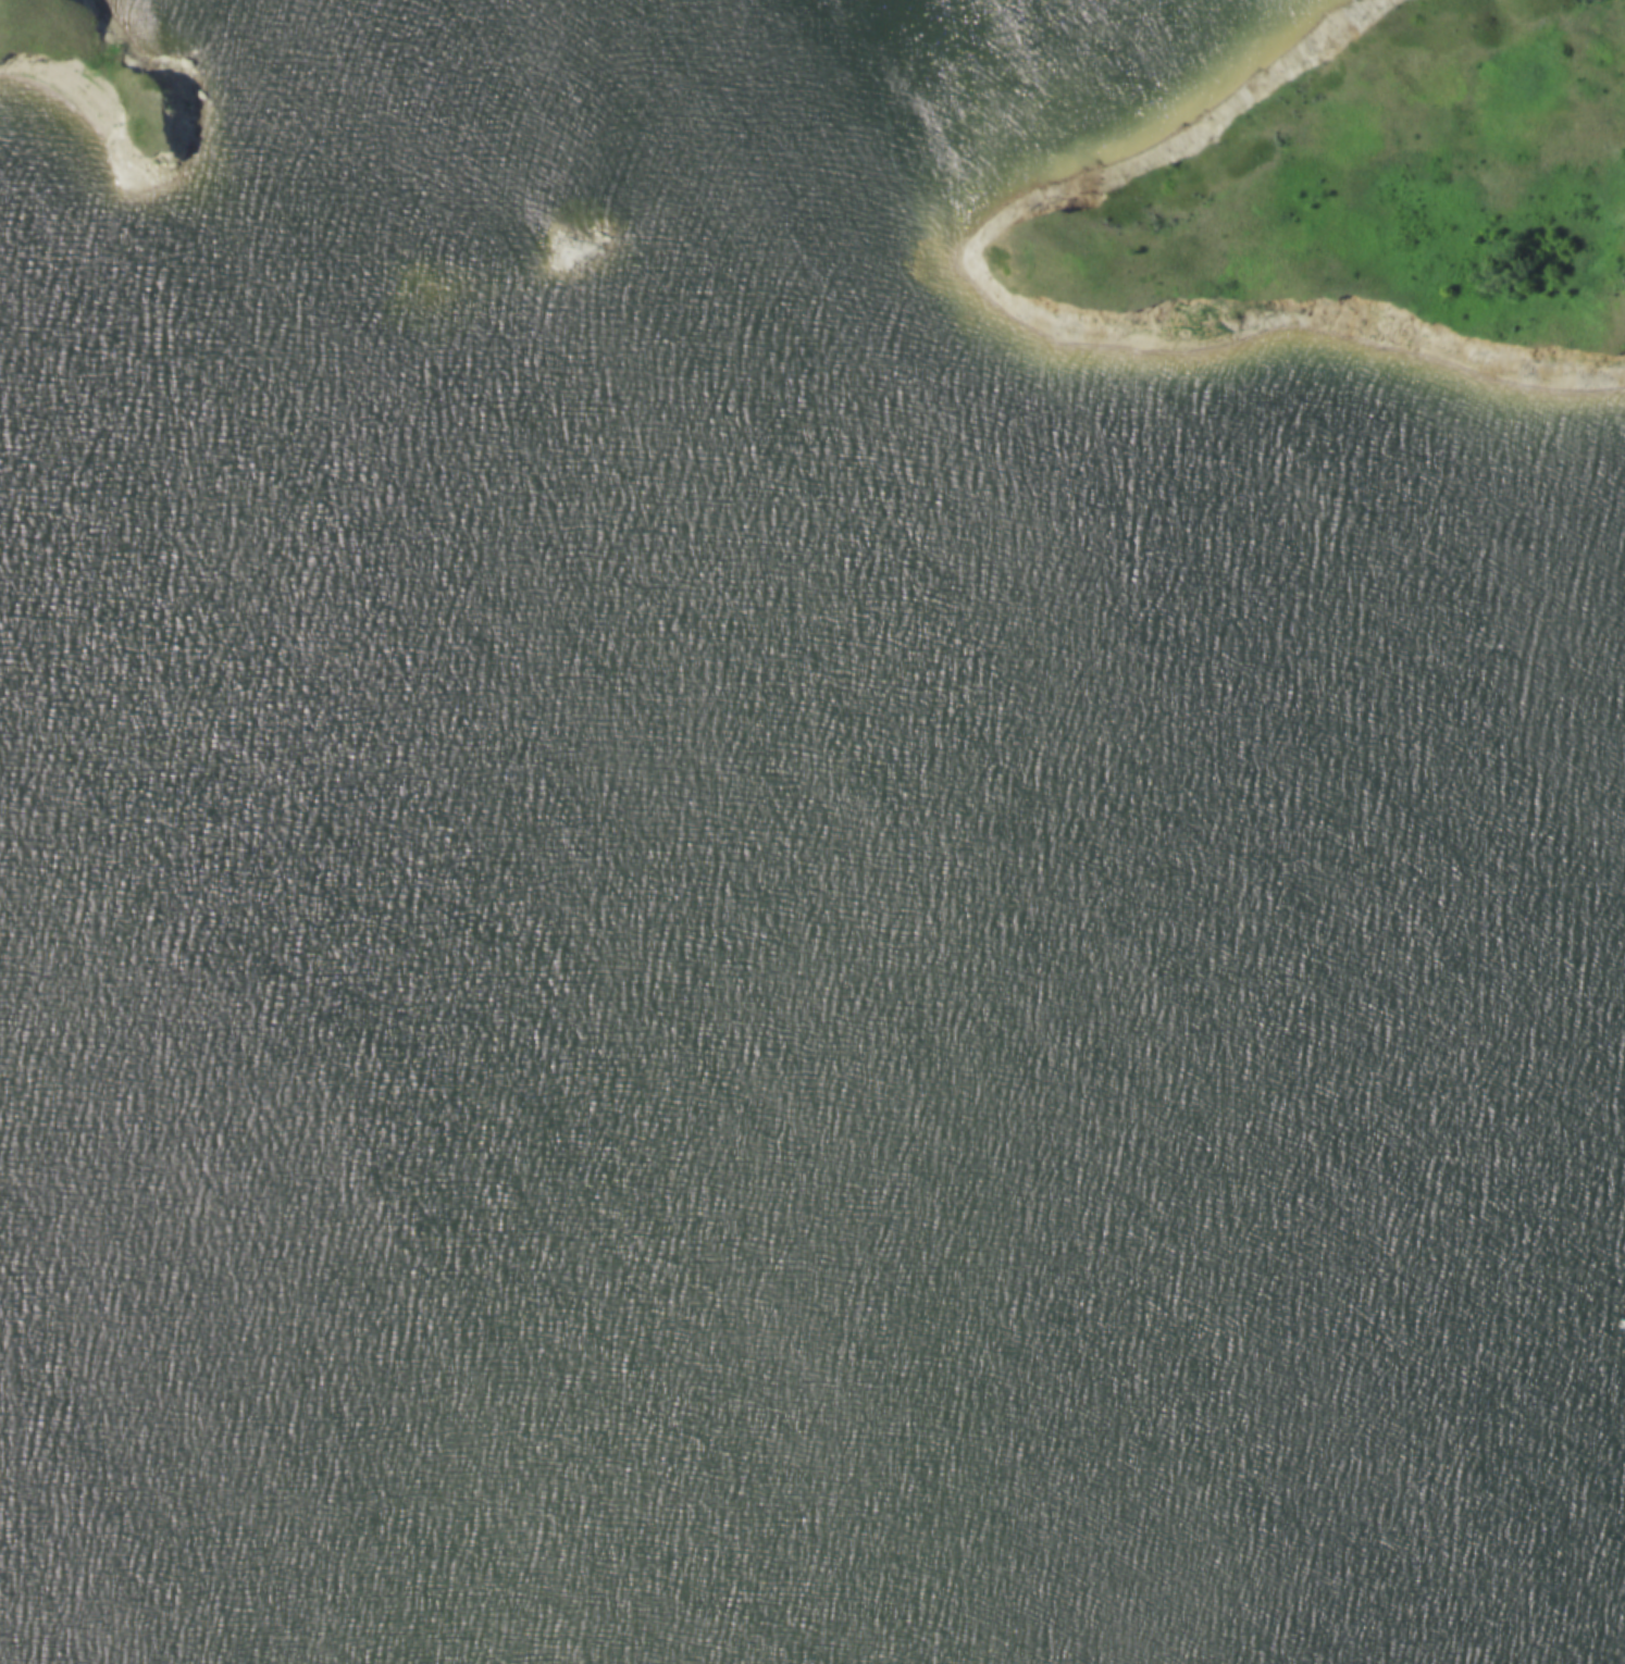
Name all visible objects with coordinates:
river: (812, 1413)

